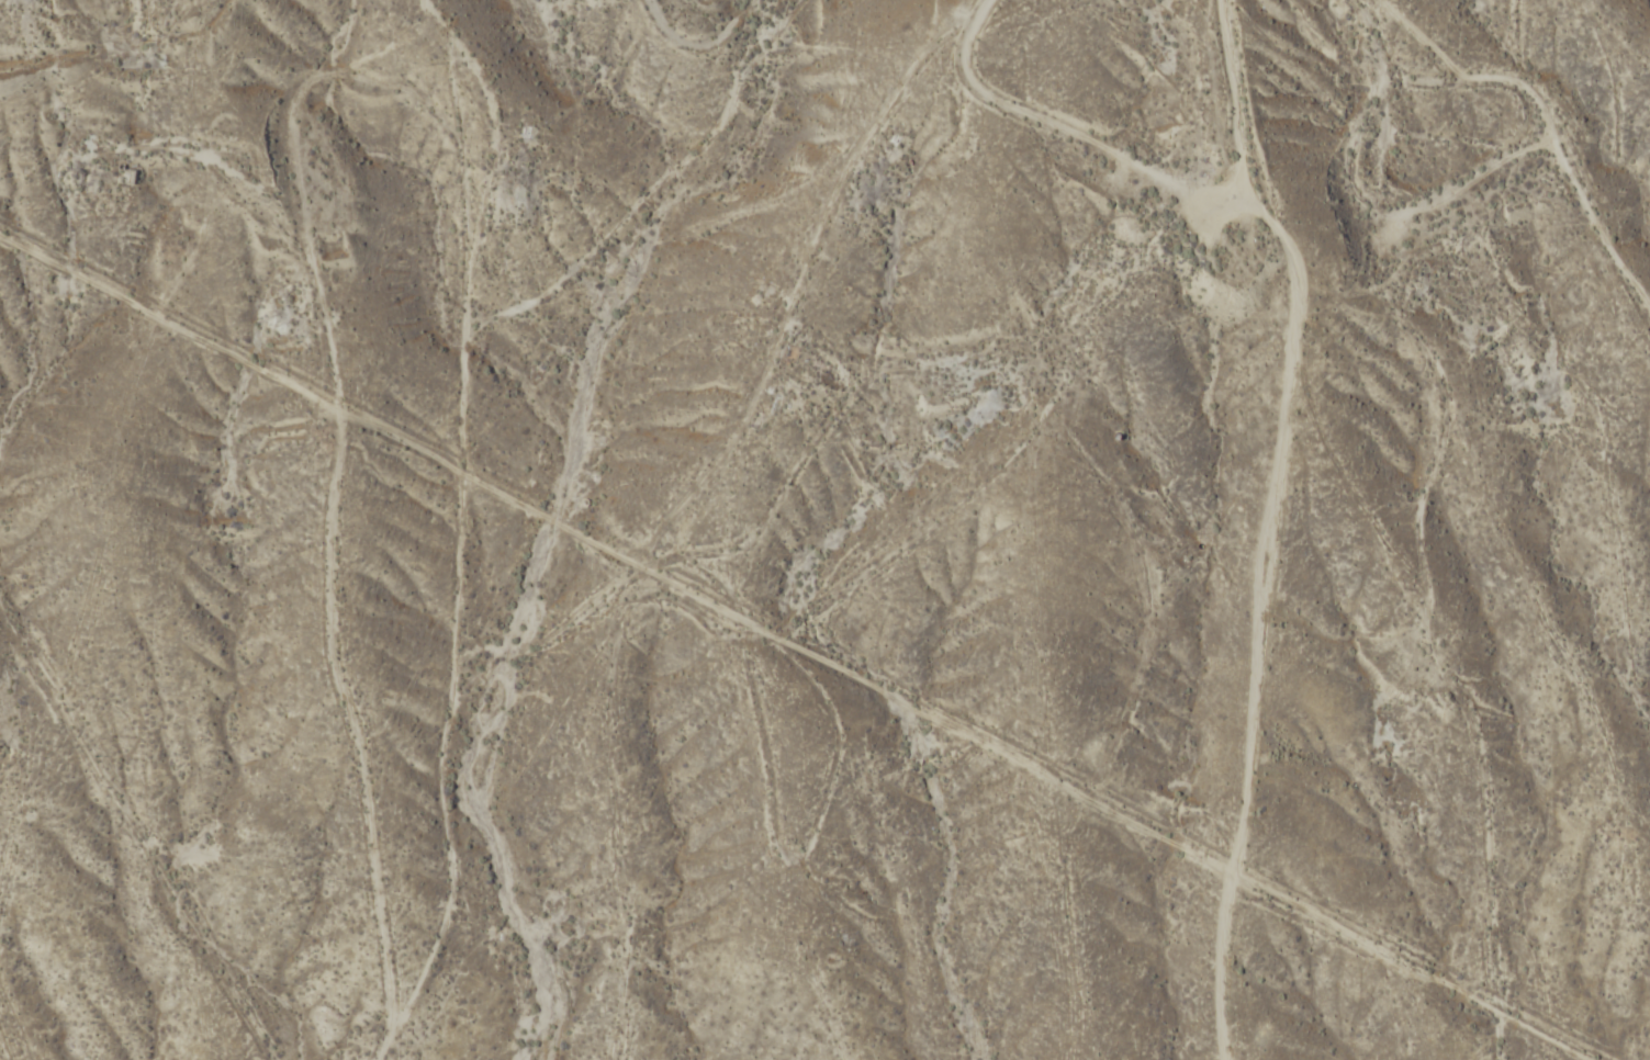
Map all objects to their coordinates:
building: (124, 177)

